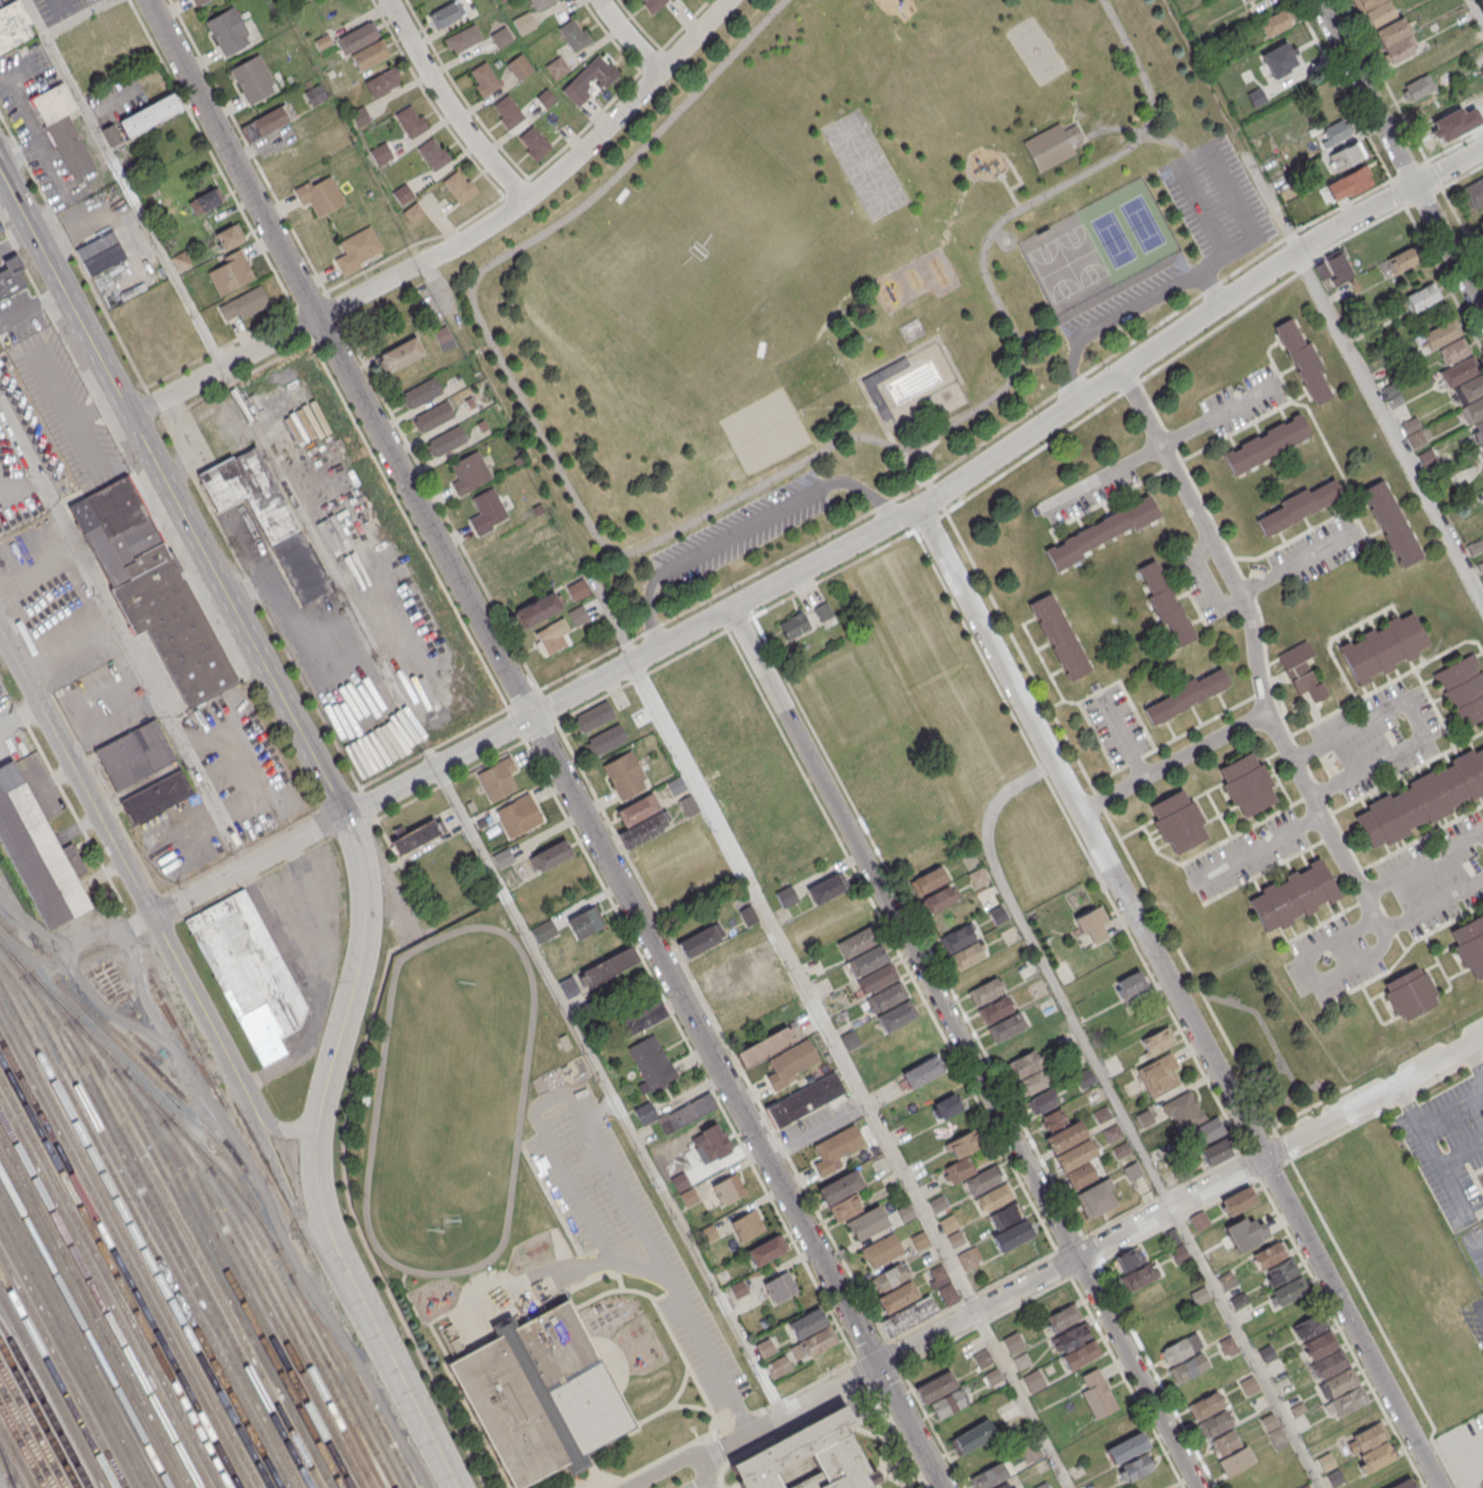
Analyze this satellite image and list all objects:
building: (307, 0)
building: (501, 0)
building: (1246, 1)
building: (197, 2)
building: (539, 3)
building: (1368, 3)
building: (653, 4)
parking lot: (59, 9)
road: (1476, 12)
building: (1378, 14)
building: (446, 15)
road: (80, 18)
building: (12, 23)
building: (524, 23)
building: (1276, 23)
road: (1307, 24)
building: (227, 30)
building: (1392, 31)
building: (573, 34)
building: (501, 36)
road: (627, 37)
building: (463, 38)
building: (355, 39)
building: (1401, 50)
building: (368, 55)
building: (519, 66)
building: (556, 67)
building: (252, 78)
building: (591, 78)
building: (484, 79)
building: (382, 81)
building: (1418, 89)
building: (315, 95)
building: (545, 97)
road: (447, 104)
building: (507, 111)
building: (148, 116)
building: (359, 116)
building: (411, 121)
building: (62, 130)
park: (847, 132)
road: (1138, 133)
building: (1333, 134)
building: (110, 135)
building: (1074, 135)
building: (533, 142)
building: (1049, 148)
building: (380, 153)
building: (433, 154)
road: (1399, 156)
building: (1345, 157)
park: (864, 163)
road: (1217, 170)
road: (1462, 175)
road: (1016, 178)
road: (125, 183)
building: (1347, 185)
building: (459, 186)
road: (1008, 192)
building: (402, 193)
building: (1475, 193)
park: (880, 194)
building: (320, 195)
building: (204, 201)
road: (1268, 202)
building: (413, 212)
park: (1141, 222)
road: (1462, 226)
building: (229, 236)
park: (1112, 238)
road: (15, 239)
road: (454, 243)
parking lot: (1230, 244)
building: (357, 248)
building: (100, 252)
park: (1081, 254)
building: (1399, 262)
park: (842, 268)
park: (1054, 269)
building: (1335, 269)
building: (230, 273)
building: (10, 277)
building: (1422, 299)
building: (244, 303)
road: (31, 309)
road: (1122, 310)
building: (912, 331)
building: (401, 354)
building: (1302, 360)
building: (1457, 372)
road: (60, 383)
building: (420, 393)
building: (878, 401)
road: (1101, 406)
building: (433, 416)
park: (777, 421)
parking lot: (35, 427)
road: (1389, 427)
park: (747, 437)
building: (446, 440)
road: (1160, 443)
building: (1266, 443)
building: (1481, 447)
building: (469, 472)
parking lot: (15, 489)
road: (171, 494)
building: (1298, 506)
building: (487, 511)
road: (704, 515)
building: (267, 518)
building: (1390, 522)
road: (745, 527)
parking lot: (743, 528)
building: (1100, 531)
parking lot: (364, 551)
road: (831, 553)
road: (1296, 563)
road: (329, 567)
building: (151, 588)
building: (577, 590)
building: (1165, 602)
building: (537, 609)
building: (824, 614)
building: (577, 616)
building: (794, 625)
road: (126, 635)
parking lot: (68, 636)
building: (551, 636)
building: (1059, 636)
building: (1383, 647)
road: (1254, 649)
parking lot: (328, 658)
building: (554, 667)
building: (1302, 673)
building: (1463, 687)
building: (1186, 695)
building: (594, 715)
road: (1413, 716)
parking lot: (1116, 724)
road: (1123, 736)
building: (607, 738)
road: (544, 744)
building: (135, 754)
road: (1174, 758)
building: (624, 774)
building: (498, 780)
building: (1247, 783)
building: (676, 785)
building: (156, 799)
building: (1422, 799)
building: (688, 805)
building: (638, 809)
building: (519, 816)
building: (1177, 820)
building: (643, 829)
building: (417, 836)
road: (1259, 848)
building: (36, 851)
parking lot: (1246, 854)
building: (550, 855)
road: (1424, 862)
road: (293, 874)
building: (977, 877)
building: (928, 880)
road: (135, 884)
building: (825, 888)
building: (1294, 895)
building: (785, 896)
building: (938, 899)
building: (998, 914)
building: (748, 915)
building: (584, 922)
building: (1093, 923)
railway: (4, 926)
building: (544, 931)
building: (957, 938)
building: (698, 941)
building: (856, 941)
building: (1470, 945)
road: (68, 947)
building: (969, 953)
building: (866, 960)
road: (1356, 963)
building: (609, 966)
building: (248, 972)
building: (725, 974)
building: (876, 978)
building: (1130, 984)
road: (314, 986)
building: (569, 987)
building: (984, 991)
building: (1409, 993)
building: (884, 997)
road: (1178, 997)
building: (995, 1009)
building: (894, 1016)
building: (644, 1017)
building: (1007, 1026)
road: (339, 1029)
road: (828, 1030)
building: (849, 1039)
building: (1159, 1040)
park: (1272, 1040)
road: (963, 1048)
road: (954, 1058)
building: (790, 1062)
building: (651, 1063)
building: (1023, 1063)
railway: (155, 1069)
building: (921, 1072)
building: (1159, 1074)
building: (1032, 1082)
road: (610, 1090)
railway: (144, 1091)
building: (804, 1099)
building: (1040, 1101)
track: (450, 1102)
building: (946, 1106)
road: (1452, 1110)
building: (1183, 1111)
building: (688, 1113)
building: (645, 1114)
road: (1126, 1115)
building: (1055, 1118)
road: (283, 1127)
road: (816, 1130)
building: (1065, 1136)
building: (967, 1143)
building: (712, 1145)
building: (835, 1148)
road: (1435, 1153)
road: (1462, 1153)
building: (1075, 1154)
building: (1216, 1154)
building: (960, 1169)
building: (1081, 1176)
railway: (238, 1178)
road: (608, 1178)
building: (982, 1181)
building: (680, 1182)
building: (840, 1186)
building: (727, 1188)
road: (293, 1194)
building: (688, 1197)
building: (992, 1198)
building: (1095, 1198)
building: (1238, 1202)
building: (937, 1203)
building: (846, 1207)
railway: (163, 1212)
building: (906, 1212)
building: (1007, 1215)
railway: (148, 1221)
building: (1200, 1221)
building: (867, 1222)
railway: (190, 1223)
building: (948, 1223)
building: (746, 1224)
railway: (140, 1225)
railway: (163, 1231)
building: (1248, 1234)
railway: (135, 1235)
building: (1013, 1235)
building: (956, 1239)
building: (920, 1240)
railway: (129, 1245)
railway: (222, 1246)
park: (1475, 1247)
building: (765, 1250)
building: (882, 1250)
railway: (195, 1253)
building: (1179, 1253)
railway: (125, 1254)
building: (967, 1259)
building: (1275, 1263)
railway: (119, 1264)
road: (1054, 1268)
building: (1135, 1270)
railway: (258, 1271)
railway: (114, 1273)
building: (938, 1276)
railway: (228, 1277)
building: (887, 1278)
building: (1227, 1280)
railway: (109, 1283)
building: (779, 1286)
building: (738, 1288)
building: (1289, 1291)
railway: (104, 1293)
building: (949, 1293)
building: (1199, 1295)
railway: (291, 1296)
building: (897, 1296)
railway: (264, 1302)
railway: (99, 1303)
road: (1480, 1308)
railway: (94, 1311)
building: (1062, 1319)
railway: (89, 1321)
building: (807, 1323)
building: (1308, 1326)
railway: (297, 1327)
railway: (84, 1330)
railway: (78, 1340)
building: (1012, 1343)
building: (1229, 1345)
building: (1075, 1348)
building: (1181, 1348)
railway: (73, 1349)
building: (1267, 1352)
railway: (68, 1359)
building: (982, 1360)
road: (388, 1367)
building: (1189, 1368)
railway: (62, 1370)
building: (1334, 1375)
railway: (356, 1378)
railway: (57, 1380)
building: (1249, 1385)
railway: (51, 1391)
building: (1097, 1393)
building: (540, 1395)
building: (940, 1396)
railway: (45, 1405)
building: (1211, 1414)
railway: (38, 1415)
railway: (32, 1426)
building: (1274, 1430)
railway: (27, 1436)
building: (1457, 1436)
building: (973, 1437)
railway: (22, 1446)
building: (1372, 1447)
building: (1127, 1448)
building: (1230, 1452)
railway: (17, 1456)
building: (807, 1459)
railway: (11, 1465)
building: (1135, 1467)
road: (706, 1468)
railway: (6, 1469)
railway: (11, 1481)
road: (701, 1483)
road: (712, 1483)
building: (1403, 1484)
building: (1005, 1486)

